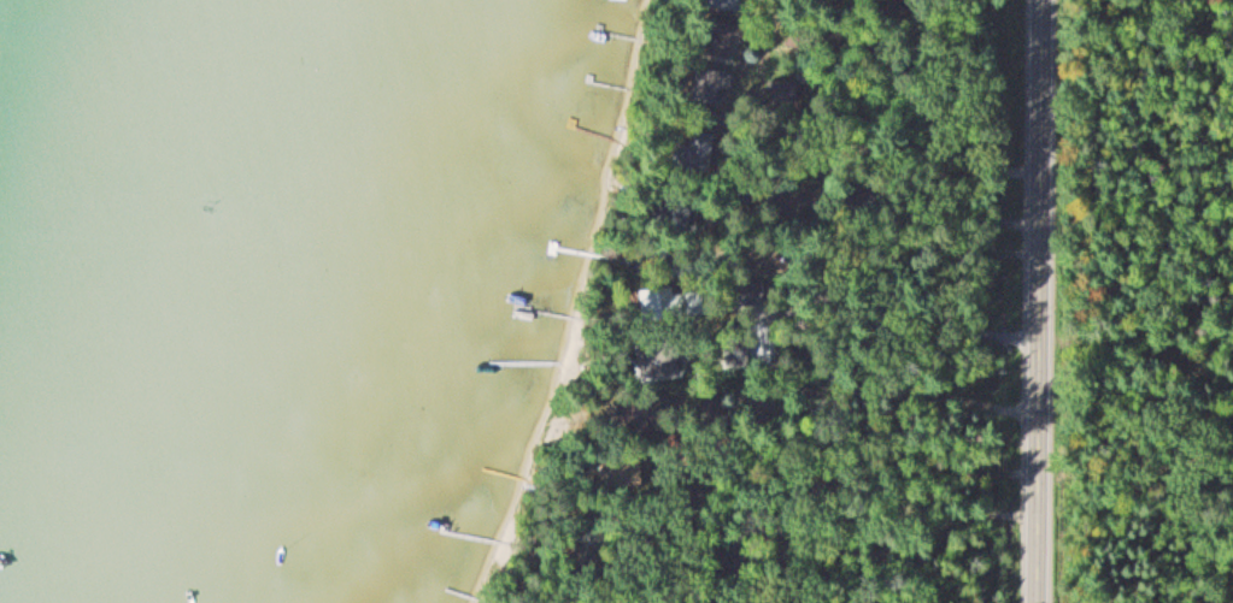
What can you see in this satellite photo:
building: (724, 5)
building: (706, 63)
building: (697, 152)
road: (897, 184)
building: (680, 213)
road: (1040, 301)
building: (739, 350)
road: (840, 416)
road: (871, 485)
road: (876, 558)

